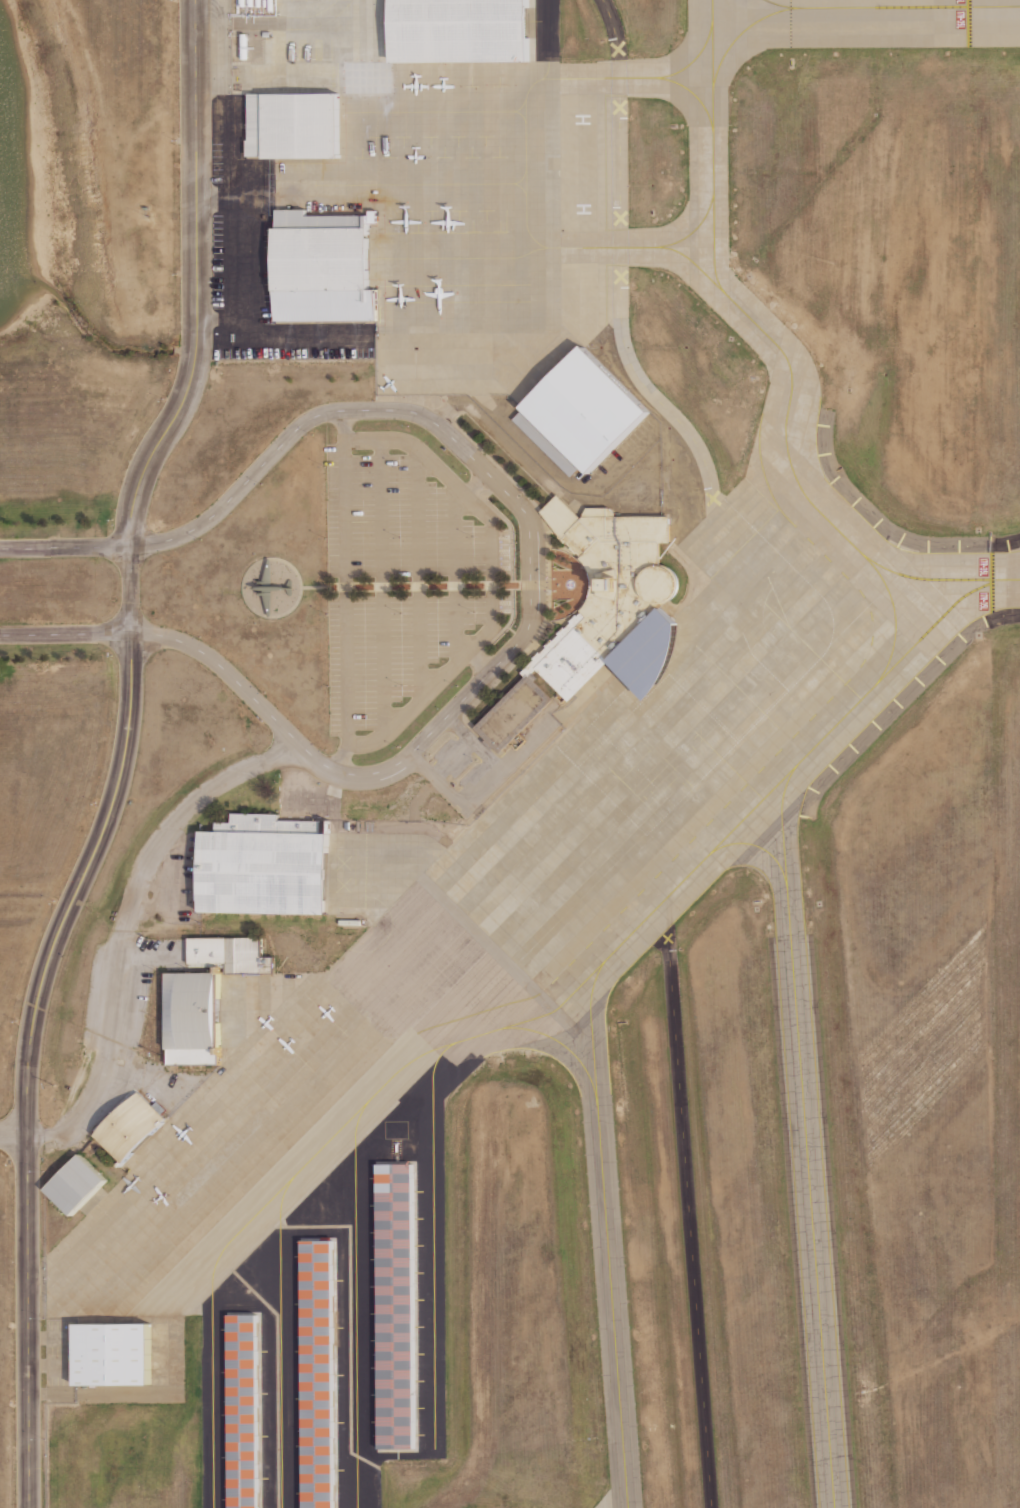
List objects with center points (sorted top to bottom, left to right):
airport taxiway: (865, 7)
airport taxiway: (890, 8)
road: (211, 24)
building: (459, 31)
airport taxiway: (711, 38)
road: (211, 78)
airport taxiway: (683, 78)
building: (294, 125)
airport taxiway: (711, 187)
road: (257, 191)
building: (373, 216)
airport apron: (493, 234)
airport taxiway: (683, 238)
road: (242, 256)
building: (323, 268)
airport taxiway: (766, 336)
building: (588, 409)
road: (297, 428)
building: (549, 443)
road: (454, 559)
airport taxiway: (885, 569)
road: (417, 575)
road: (244, 577)
road: (490, 581)
parking lot: (398, 583)
road: (380, 585)
road: (446, 586)
building: (610, 588)
road: (345, 592)
airport taxiway: (892, 616)
building: (555, 645)
building: (652, 656)
building: (515, 715)
road: (473, 743)
road: (298, 745)
road: (122, 755)
road: (451, 758)
airport: (567, 786)
road: (480, 790)
building: (267, 823)
airport taxiway: (755, 846)
building: (264, 871)
road: (125, 923)
building: (231, 954)
airport taxiway: (605, 958)
airport apron: (460, 1017)
building: (194, 1019)
airport taxiway: (564, 1047)
airport taxiway: (396, 1071)
road: (147, 1077)
building: (132, 1126)
road: (13, 1135)
airport taxiway: (804, 1135)
building: (76, 1185)
road: (688, 1219)
building: (398, 1307)
road: (63, 1351)
building: (113, 1354)
building: (319, 1375)
road: (160, 1393)
road: (51, 1394)
building: (244, 1412)

